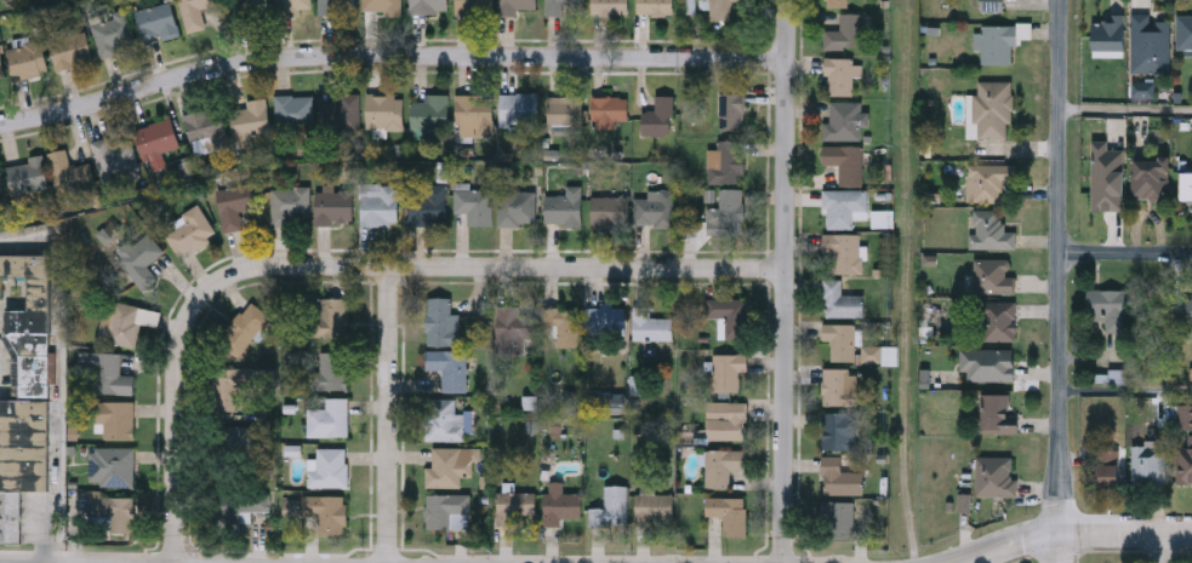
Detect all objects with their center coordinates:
building: (837, 2)
building: (991, 4)
building: (336, 5)
building: (381, 5)
building: (428, 5)
building: (514, 5)
building: (557, 5)
building: (246, 6)
building: (290, 6)
building: (473, 6)
building: (609, 6)
building: (655, 6)
building: (719, 10)
building: (193, 12)
building: (155, 19)
building: (110, 30)
building: (844, 31)
building: (1184, 31)
building: (1110, 35)
building: (997, 42)
building: (1150, 44)
building: (69, 48)
building: (28, 58)
road: (390, 62)
building: (1, 68)
building: (840, 74)
building: (518, 107)
building: (609, 108)
building: (993, 108)
building: (383, 109)
building: (429, 109)
building: (565, 109)
building: (731, 109)
building: (293, 110)
building: (338, 110)
road: (1127, 113)
building: (474, 114)
building: (250, 116)
building: (657, 116)
building: (843, 119)
building: (206, 125)
building: (156, 137)
building: (114, 155)
building: (725, 160)
building: (845, 160)
building: (68, 171)
building: (27, 173)
building: (987, 178)
building: (1150, 179)
building: (0, 183)
building: (1186, 186)
building: (234, 202)
building: (289, 202)
building: (377, 202)
building: (473, 202)
building: (427, 203)
building: (564, 203)
building: (333, 205)
building: (517, 205)
building: (843, 205)
building: (655, 207)
building: (609, 208)
building: (726, 208)
building: (989, 228)
building: (843, 249)
road: (1127, 254)
building: (139, 257)
road: (350, 263)
building: (993, 274)
road: (786, 281)
road: (907, 281)
road: (1062, 281)
building: (840, 298)
building: (1107, 308)
building: (1184, 311)
building: (729, 314)
building: (329, 315)
building: (599, 317)
building: (561, 318)
building: (998, 318)
building: (126, 320)
building: (440, 320)
building: (649, 322)
building: (246, 323)
building: (512, 323)
building: (839, 338)
building: (987, 362)
building: (447, 364)
building: (331, 368)
building: (726, 368)
building: (107, 372)
building: (28, 377)
building: (835, 383)
building: (223, 386)
road: (1127, 396)
building: (997, 412)
road: (389, 413)
building: (114, 415)
building: (327, 415)
building: (443, 418)
building: (726, 420)
building: (837, 427)
building: (235, 442)
road: (59, 460)
building: (450, 463)
building: (722, 463)
building: (1148, 463)
building: (1185, 463)
building: (116, 464)
building: (327, 465)
building: (1108, 467)
building: (994, 473)
building: (838, 475)
building: (559, 501)
building: (235, 502)
building: (514, 502)
building: (610, 505)
building: (654, 506)
building: (318, 507)
building: (446, 509)
building: (729, 510)
building: (113, 511)
building: (12, 516)
building: (839, 517)
road: (1127, 533)
road: (1013, 544)
road: (1167, 547)

